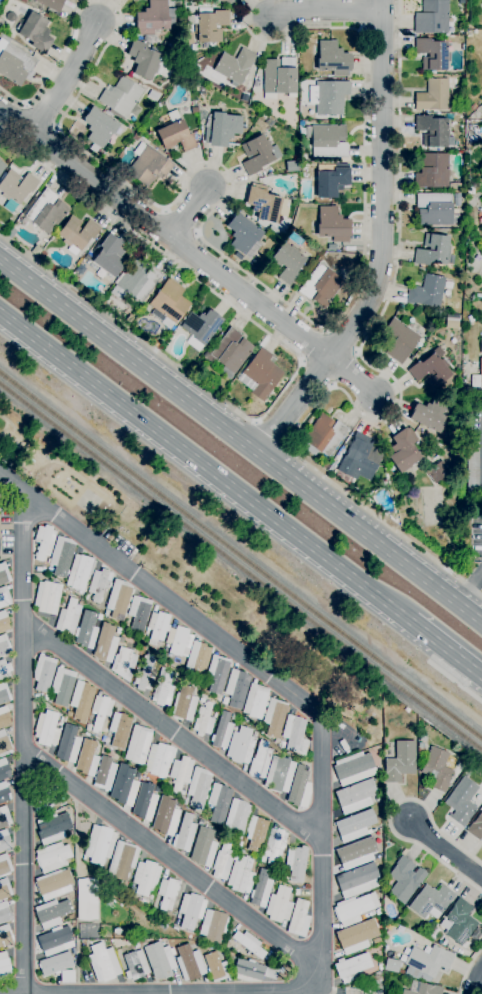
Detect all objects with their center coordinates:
building: (231, 0)
building: (23, 1)
building: (225, 1)
building: (461, 2)
building: (481, 3)
building: (49, 4)
road: (326, 11)
building: (10, 17)
building: (432, 17)
building: (154, 18)
building: (210, 26)
building: (36, 32)
building: (481, 47)
building: (432, 54)
building: (332, 59)
building: (143, 60)
building: (15, 64)
road: (54, 65)
building: (233, 67)
building: (279, 76)
road: (66, 78)
building: (256, 84)
building: (433, 95)
building: (121, 97)
building: (328, 97)
building: (473, 107)
building: (99, 128)
building: (222, 129)
building: (432, 131)
building: (175, 134)
building: (136, 137)
building: (327, 140)
building: (258, 154)
building: (147, 165)
building: (291, 166)
building: (2, 167)
building: (432, 171)
building: (331, 181)
road: (381, 186)
building: (455, 186)
building: (16, 188)
building: (469, 191)
building: (263, 203)
building: (435, 210)
building: (46, 212)
road: (189, 212)
building: (332, 225)
building: (273, 231)
building: (77, 233)
road: (165, 233)
building: (242, 234)
building: (433, 251)
building: (42, 256)
building: (109, 256)
building: (288, 262)
building: (137, 280)
building: (320, 285)
road: (264, 286)
building: (427, 291)
building: (478, 295)
building: (169, 303)
building: (470, 318)
building: (200, 328)
building: (397, 340)
building: (156, 345)
building: (481, 346)
building: (229, 353)
road: (300, 369)
building: (430, 371)
building: (260, 375)
road: (352, 377)
building: (477, 377)
road: (399, 393)
road: (294, 406)
building: (429, 415)
road: (272, 431)
building: (322, 436)
road: (241, 440)
building: (403, 450)
building: (359, 457)
building: (472, 458)
building: (325, 466)
building: (331, 467)
road: (204, 471)
building: (438, 471)
parking lot: (475, 534)
building: (44, 541)
railway: (241, 553)
building: (61, 556)
road: (11, 557)
railway: (241, 563)
building: (79, 572)
building: (4, 574)
building: (99, 584)
road: (468, 587)
road: (160, 594)
building: (4, 597)
building: (47, 597)
building: (118, 599)
building: (139, 614)
building: (99, 617)
building: (68, 619)
building: (3, 622)
building: (157, 627)
building: (86, 630)
building: (118, 631)
building: (121, 640)
building: (179, 641)
building: (105, 644)
building: (4, 645)
road: (445, 654)
building: (197, 657)
building: (123, 664)
building: (4, 670)
building: (44, 673)
building: (217, 674)
building: (144, 675)
road: (455, 681)
building: (62, 686)
building: (236, 688)
building: (162, 689)
building: (4, 694)
building: (45, 697)
building: (80, 701)
building: (225, 701)
building: (255, 701)
building: (184, 704)
building: (100, 711)
building: (4, 717)
building: (274, 717)
building: (244, 719)
building: (203, 720)
building: (46, 729)
building: (119, 729)
building: (222, 732)
building: (294, 735)
building: (422, 737)
road: (22, 741)
building: (4, 744)
building: (68, 745)
building: (138, 745)
building: (281, 745)
building: (421, 745)
building: (241, 746)
building: (420, 751)
building: (87, 759)
building: (158, 760)
building: (259, 760)
building: (400, 762)
building: (353, 768)
building: (4, 769)
building: (437, 769)
road: (223, 770)
building: (104, 774)
building: (180, 774)
building: (279, 775)
road: (320, 779)
building: (124, 786)
building: (198, 787)
building: (298, 787)
building: (4, 792)
building: (355, 796)
building: (185, 801)
building: (461, 801)
building: (144, 802)
building: (219, 802)
road: (390, 814)
building: (4, 817)
building: (236, 818)
building: (166, 821)
building: (355, 826)
building: (476, 827)
building: (53, 828)
building: (255, 833)
building: (184, 834)
building: (4, 840)
building: (100, 844)
building: (275, 845)
building: (203, 847)
road: (446, 850)
building: (351, 855)
building: (52, 857)
building: (123, 859)
road: (172, 860)
building: (222, 862)
building: (295, 863)
building: (4, 865)
building: (241, 875)
building: (285, 876)
building: (146, 878)
building: (404, 879)
building: (357, 880)
building: (54, 884)
building: (4, 890)
building: (260, 890)
building: (132, 891)
road: (77, 892)
building: (297, 892)
building: (167, 893)
building: (87, 899)
building: (431, 901)
building: (279, 905)
building: (354, 908)
building: (191, 910)
building: (153, 911)
building: (4, 913)
building: (52, 913)
building: (299, 919)
building: (73, 923)
building: (458, 923)
building: (213, 926)
building: (476, 934)
building: (5, 936)
building: (355, 936)
building: (56, 941)
building: (249, 944)
building: (159, 960)
building: (103, 963)
building: (189, 963)
building: (426, 963)
building: (56, 964)
building: (135, 965)
building: (391, 965)
building: (4, 966)
building: (216, 967)
building: (351, 967)
building: (380, 967)
road: (467, 969)
building: (281, 970)
building: (247, 971)
building: (271, 972)
building: (67, 977)
road: (478, 983)
building: (422, 989)
road: (247, 992)

